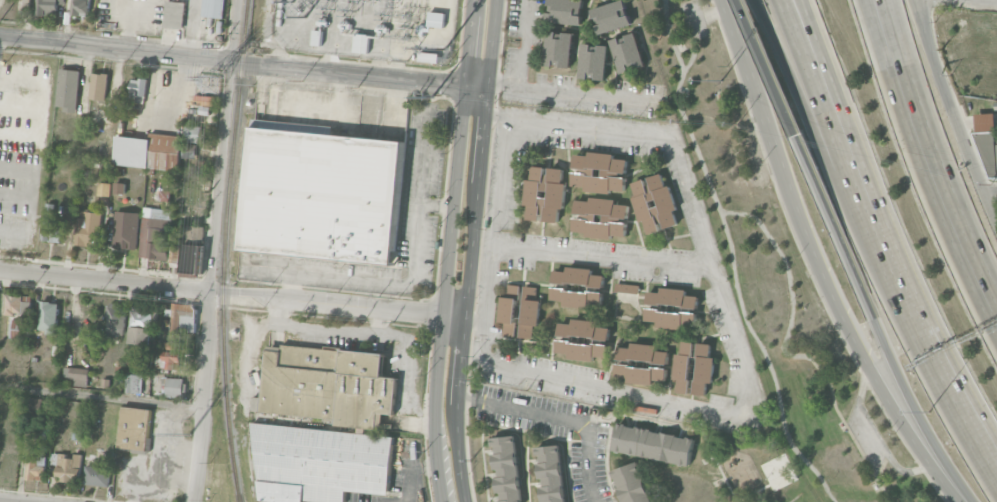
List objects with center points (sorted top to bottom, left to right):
building: (25, 4)
building: (48, 7)
building: (80, 7)
building: (213, 8)
building: (565, 11)
building: (174, 14)
road: (707, 14)
building: (610, 15)
building: (435, 19)
road: (923, 23)
power substation: (368, 28)
road: (267, 34)
building: (315, 37)
building: (361, 42)
road: (469, 42)
road: (523, 42)
power tower: (218, 46)
building: (559, 47)
road: (693, 47)
building: (627, 51)
building: (427, 56)
power tower: (388, 58)
road: (233, 60)
building: (593, 60)
road: (329, 62)
road: (378, 67)
road: (768, 68)
road: (396, 69)
road: (749, 72)
building: (98, 85)
power tower: (210, 85)
road: (477, 86)
building: (68, 89)
building: (137, 89)
road: (574, 90)
power tower: (432, 96)
road: (40, 101)
road: (329, 108)
road: (806, 108)
road: (474, 111)
road: (954, 113)
road: (495, 114)
road: (591, 126)
road: (927, 129)
road: (909, 132)
building: (193, 133)
road: (855, 137)
road: (834, 140)
building: (996, 146)
building: (987, 150)
building: (149, 151)
building: (599, 171)
building: (119, 187)
building: (103, 188)
building: (545, 193)
road: (990, 194)
building: (164, 195)
building: (322, 196)
road: (31, 198)
building: (654, 202)
road: (436, 205)
building: (600, 216)
building: (50, 224)
building: (87, 227)
building: (125, 229)
building: (153, 233)
road: (211, 250)
road: (470, 250)
railway: (224, 251)
building: (175, 253)
road: (732, 257)
building: (192, 260)
road: (410, 275)
park: (776, 281)
road: (289, 284)
building: (577, 286)
building: (627, 287)
road: (981, 288)
road: (231, 292)
road: (444, 293)
building: (18, 303)
road: (910, 303)
building: (671, 307)
building: (520, 309)
building: (48, 316)
building: (181, 316)
building: (115, 318)
road: (879, 322)
building: (140, 326)
building: (20, 328)
road: (329, 328)
road: (848, 332)
building: (583, 339)
building: (34, 344)
building: (55, 349)
road: (738, 350)
road: (788, 353)
building: (169, 355)
building: (129, 363)
building: (642, 363)
building: (119, 367)
building: (694, 367)
building: (78, 372)
road: (408, 372)
building: (133, 381)
building: (106, 382)
building: (330, 384)
building: (174, 387)
road: (100, 396)
road: (465, 397)
road: (957, 400)
building: (34, 401)
road: (567, 422)
building: (135, 428)
road: (876, 433)
power tower: (188, 434)
road: (171, 441)
building: (654, 443)
building: (321, 462)
road: (882, 466)
building: (36, 467)
building: (69, 467)
building: (507, 469)
road: (408, 471)
building: (551, 473)
building: (96, 475)
road: (155, 477)
building: (631, 483)

